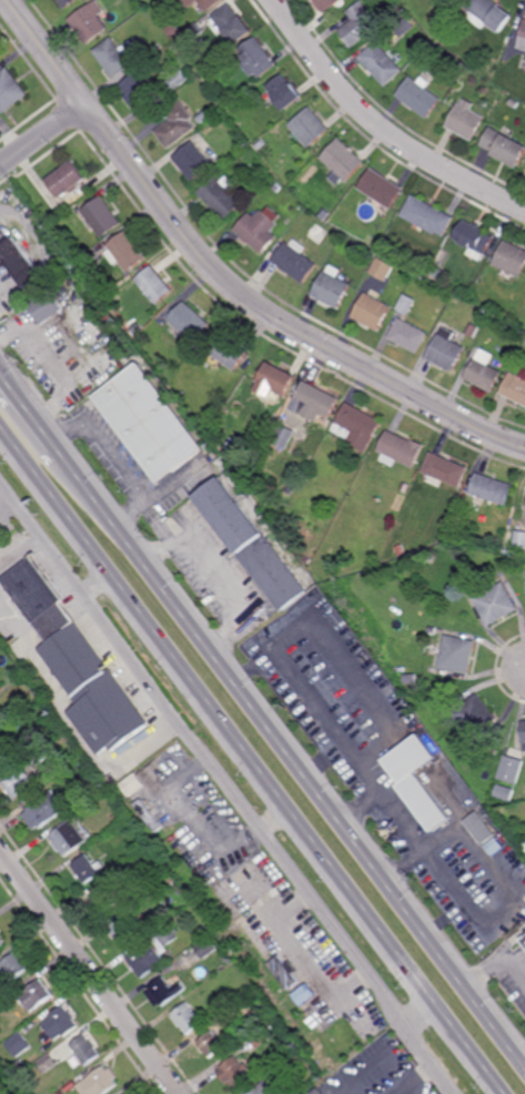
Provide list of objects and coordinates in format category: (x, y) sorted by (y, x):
building: (67, 3)
building: (202, 3)
building: (327, 4)
building: (488, 14)
building: (89, 22)
building: (232, 23)
building: (359, 26)
building: (404, 27)
building: (194, 30)
building: (173, 31)
building: (443, 38)
building: (523, 40)
building: (431, 48)
building: (113, 58)
building: (256, 59)
building: (382, 64)
building: (175, 80)
building: (10, 92)
building: (140, 92)
building: (285, 93)
building: (417, 98)
building: (514, 103)
building: (465, 122)
building: (175, 125)
road: (378, 126)
building: (311, 128)
road: (42, 136)
building: (260, 145)
building: (504, 148)
building: (192, 161)
building: (343, 162)
building: (67, 179)
building: (381, 186)
building: (276, 188)
building: (220, 195)
building: (325, 214)
building: (428, 214)
building: (102, 216)
building: (260, 227)
building: (475, 239)
building: (370, 240)
building: (353, 247)
building: (128, 251)
building: (370, 251)
building: (511, 260)
building: (20, 261)
building: (296, 261)
building: (440, 265)
building: (382, 269)
road: (219, 277)
building: (157, 283)
building: (332, 286)
building: (107, 290)
building: (62, 291)
building: (456, 296)
building: (46, 306)
building: (372, 310)
building: (191, 321)
building: (408, 324)
building: (232, 350)
building: (447, 351)
building: (509, 359)
power tower: (22, 364)
building: (485, 371)
building: (279, 377)
building: (515, 386)
building: (314, 401)
building: (200, 416)
building: (150, 422)
building: (357, 426)
building: (284, 435)
building: (401, 449)
building: (446, 470)
building: (406, 486)
building: (291, 487)
building: (493, 490)
building: (519, 539)
power tower: (155, 540)
building: (477, 543)
building: (252, 544)
building: (401, 549)
building: (431, 556)
road: (94, 581)
building: (31, 590)
building: (497, 602)
building: (51, 625)
building: (433, 629)
building: (0, 639)
building: (458, 654)
building: (430, 668)
building: (94, 691)
power tower: (285, 710)
building: (476, 716)
road: (262, 720)
building: (524, 732)
building: (39, 757)
road: (253, 759)
building: (414, 761)
building: (2, 763)
building: (513, 769)
building: (93, 778)
building: (19, 783)
road: (228, 789)
building: (424, 792)
building: (507, 793)
building: (46, 810)
building: (455, 810)
building: (152, 814)
road: (274, 819)
building: (130, 824)
building: (479, 828)
building: (70, 838)
building: (100, 841)
building: (523, 845)
building: (89, 869)
building: (162, 873)
building: (171, 880)
power tower: (415, 881)
building: (109, 898)
building: (132, 909)
building: (205, 930)
building: (123, 931)
building: (524, 939)
building: (2, 941)
building: (524, 941)
building: (208, 948)
building: (153, 951)
building: (229, 958)
road: (494, 964)
building: (13, 969)
building: (289, 971)
road: (88, 973)
building: (165, 991)
building: (297, 992)
building: (36, 994)
building: (256, 999)
building: (312, 1004)
road: (422, 1013)
building: (189, 1017)
building: (61, 1022)
building: (261, 1037)
building: (211, 1043)
building: (20, 1044)
building: (232, 1044)
building: (87, 1049)
building: (49, 1063)
building: (284, 1066)
building: (235, 1072)
building: (100, 1081)
building: (22, 1083)
building: (267, 1087)
building: (362, 1093)

